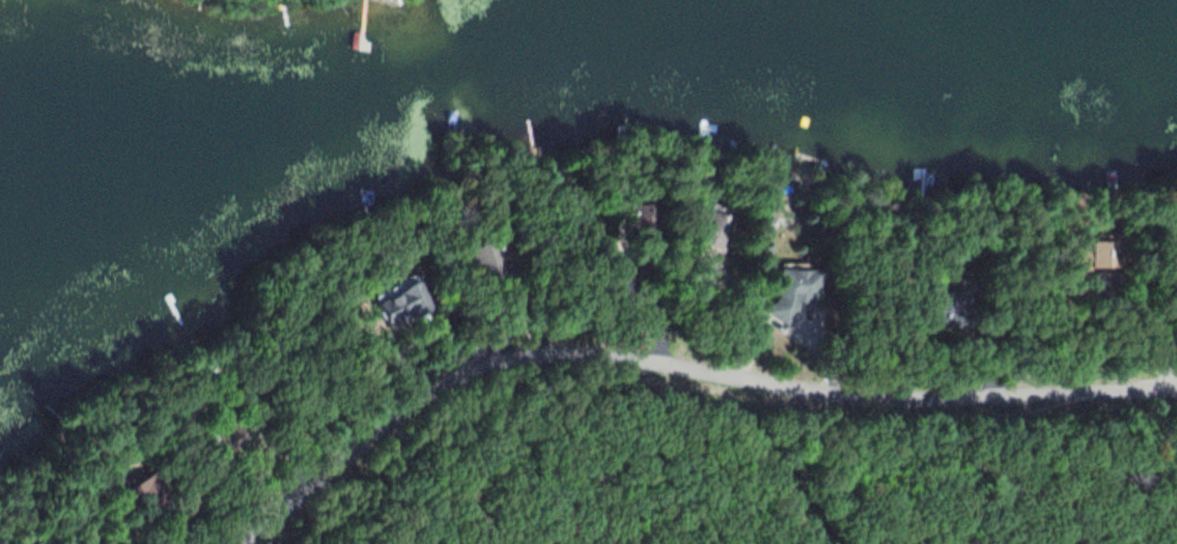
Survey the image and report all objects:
building: (639, 219)
building: (711, 225)
building: (1091, 255)
building: (487, 258)
building: (791, 288)
building: (406, 302)
building: (938, 308)
road: (675, 370)
building: (226, 434)
building: (144, 494)
building: (37, 543)

